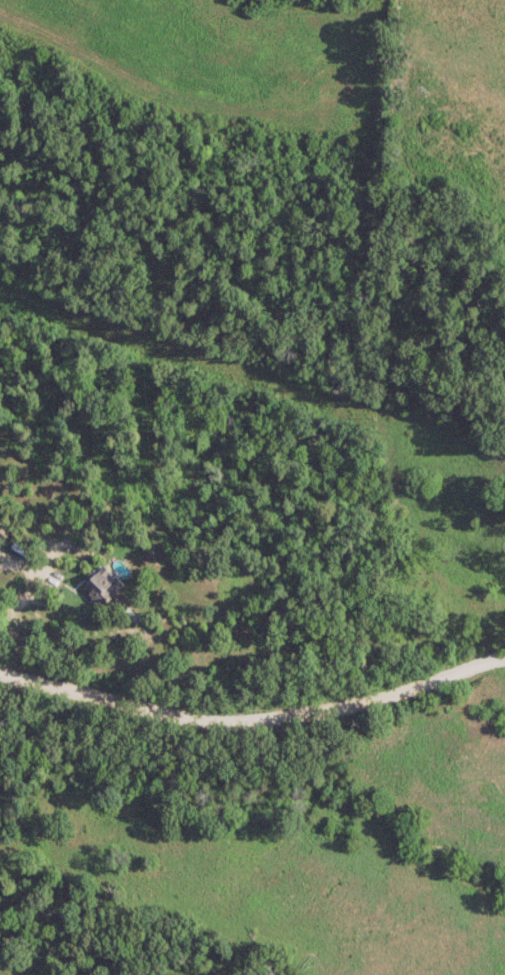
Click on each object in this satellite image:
building: (104, 584)
road: (254, 714)

